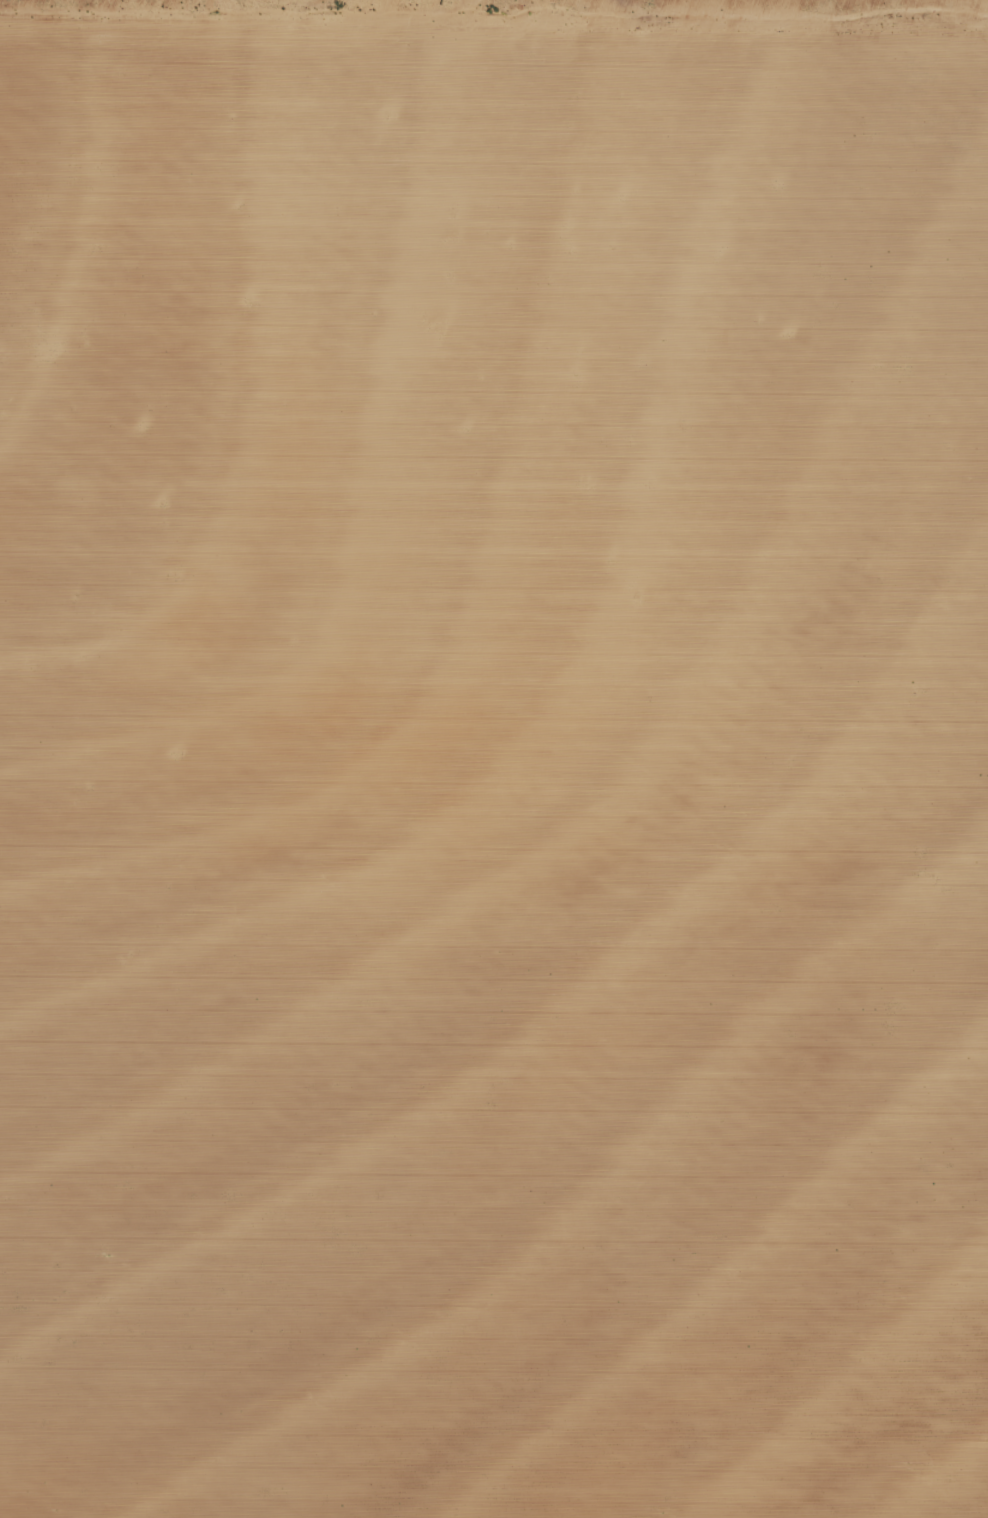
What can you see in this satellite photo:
road: (494, 30)

